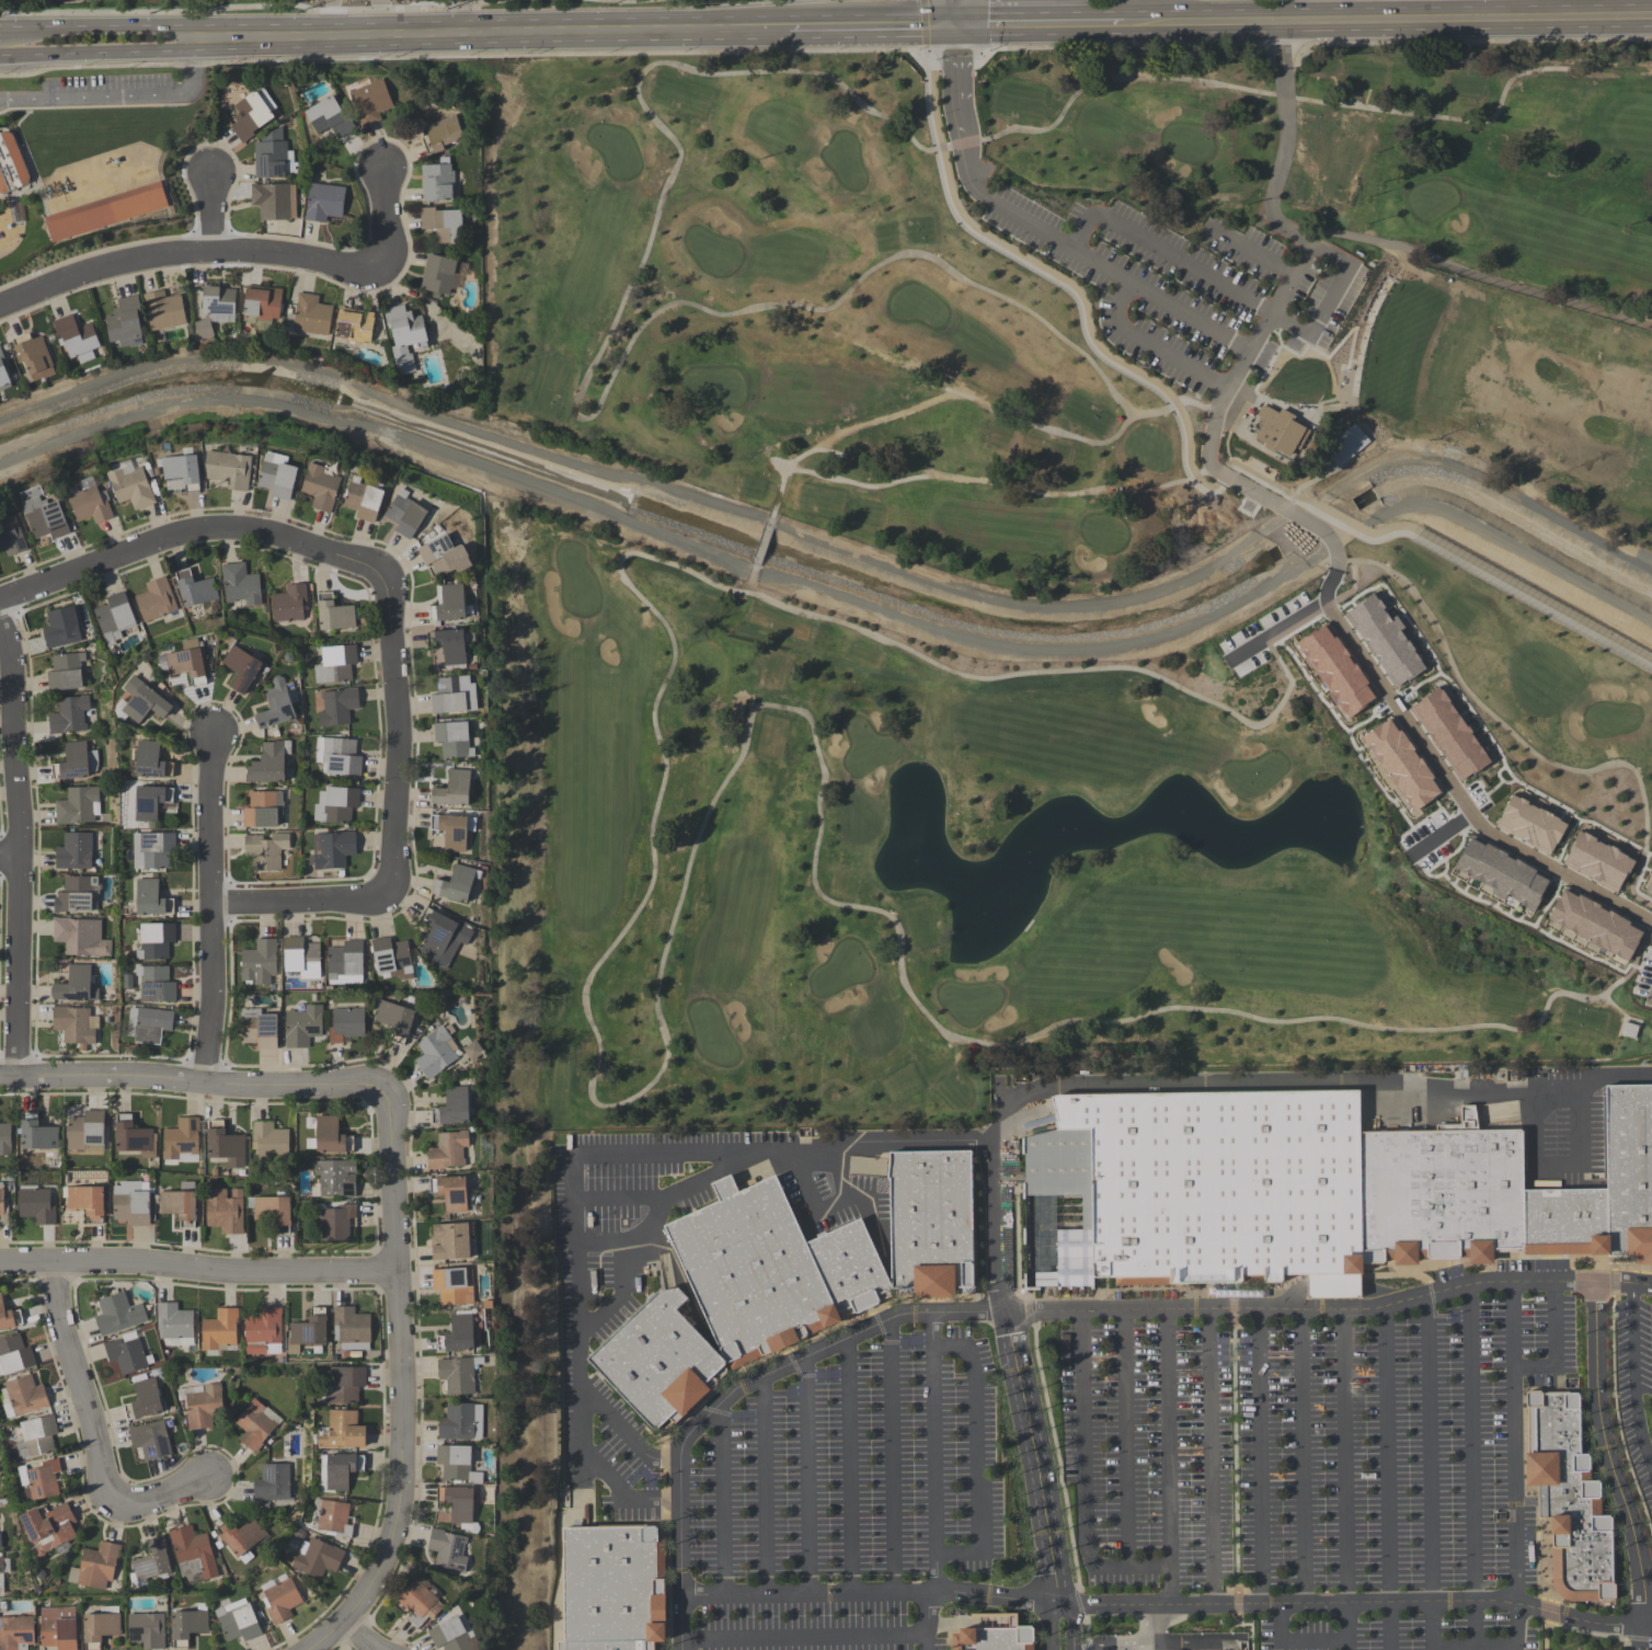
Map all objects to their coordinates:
building: (65, 0)
building: (77, 0)
park: (309, 1)
road: (332, 4)
road: (379, 4)
road: (412, 8)
road: (167, 11)
road: (955, 12)
road: (468, 16)
road: (1523, 19)
road: (332, 22)
road: (1340, 22)
road: (1040, 23)
road: (1205, 23)
traffic signals: (956, 24)
road: (107, 25)
road: (11, 27)
road: (925, 27)
road: (574, 32)
road: (96, 51)
road: (122, 96)
building: (370, 102)
building: (252, 115)
building: (330, 118)
building: (441, 135)
road: (1285, 142)
building: (271, 157)
building: (12, 163)
road: (964, 163)
building: (438, 182)
building: (275, 202)
building: (324, 203)
building: (107, 214)
road: (207, 216)
road: (385, 219)
building: (444, 225)
road: (1163, 252)
road: (1252, 253)
road: (187, 254)
building: (439, 276)
road: (1159, 299)
road: (1329, 299)
building: (220, 300)
building: (263, 303)
building: (165, 311)
road: (1269, 314)
building: (312, 316)
building: (126, 323)
building: (205, 329)
building: (354, 329)
building: (405, 336)
building: (78, 339)
road: (1152, 344)
building: (35, 357)
building: (4, 374)
building: (1278, 429)
building: (1345, 445)
building: (228, 468)
building: (182, 469)
building: (276, 474)
road: (1188, 475)
road: (1196, 475)
building: (131, 486)
building: (320, 486)
road: (1263, 497)
building: (363, 499)
building: (90, 504)
building: (406, 511)
building: (44, 513)
road: (187, 534)
building: (11, 535)
building: (444, 554)
park: (1021, 564)
building: (240, 584)
building: (194, 587)
building: (154, 599)
building: (288, 603)
building: (449, 604)
building: (333, 612)
building: (114, 617)
building: (60, 627)
road: (1282, 628)
building: (1385, 641)
building: (451, 645)
building: (184, 662)
building: (335, 664)
building: (241, 667)
building: (1335, 669)
building: (65, 671)
building: (454, 695)
building: (142, 700)
building: (276, 704)
building: (336, 707)
building: (69, 714)
building: (1448, 734)
road: (391, 735)
building: (452, 738)
building: (337, 756)
building: (150, 760)
building: (74, 761)
building: (268, 763)
building: (1398, 764)
building: (452, 788)
road: (1456, 797)
building: (150, 801)
building: (335, 804)
building: (78, 805)
building: (262, 809)
building: (1529, 824)
building: (452, 829)
road: (1437, 833)
building: (152, 849)
building: (265, 849)
building: (331, 849)
building: (74, 850)
road: (20, 852)
building: (1597, 861)
road: (10, 863)
building: (1501, 873)
building: (456, 883)
building: (1648, 885)
building: (74, 894)
building: (151, 898)
road: (299, 902)
road: (210, 908)
building: (1594, 924)
building: (80, 937)
building: (441, 938)
building: (156, 940)
building: (301, 958)
building: (391, 959)
building: (259, 962)
building: (345, 962)
building: (156, 983)
building: (76, 984)
building: (393, 1019)
building: (72, 1023)
building: (148, 1024)
building: (345, 1024)
building: (302, 1027)
building: (257, 1029)
building: (471, 1051)
building: (435, 1052)
road: (194, 1079)
road: (1592, 1081)
road: (1175, 1084)
road: (1459, 1097)
road: (1407, 1105)
building: (451, 1107)
road: (1506, 1120)
road: (1023, 1128)
building: (85, 1132)
building: (36, 1133)
building: (328, 1135)
building: (134, 1136)
building: (4, 1139)
building: (268, 1139)
building: (180, 1142)
building: (223, 1145)
building: (447, 1150)
road: (801, 1157)
building: (863, 1165)
road: (1557, 1166)
road: (861, 1170)
building: (1630, 1173)
building: (334, 1179)
building: (449, 1192)
building: (1200, 1193)
building: (1444, 1196)
road: (861, 1199)
road: (616, 1200)
building: (85, 1201)
building: (131, 1202)
building: (180, 1203)
building: (35, 1204)
building: (3, 1207)
building: (225, 1211)
building: (274, 1212)
road: (824, 1214)
building: (336, 1222)
building: (1567, 1224)
building: (933, 1225)
road: (996, 1228)
building: (449, 1240)
road: (612, 1245)
road: (658, 1261)
building: (850, 1268)
road: (195, 1270)
building: (753, 1273)
road: (577, 1274)
building: (454, 1285)
road: (1339, 1290)
road: (1383, 1295)
road: (1290, 1296)
road: (619, 1298)
road: (1046, 1311)
building: (117, 1314)
building: (9, 1317)
building: (174, 1324)
building: (351, 1328)
building: (308, 1330)
building: (219, 1331)
building: (263, 1332)
building: (457, 1333)
road: (1553, 1347)
building: (14, 1354)
building: (126, 1354)
building: (661, 1362)
road: (1491, 1372)
building: (458, 1374)
road: (1630, 1375)
building: (345, 1384)
road: (397, 1385)
building: (23, 1396)
building: (144, 1399)
building: (200, 1405)
road: (1047, 1418)
building: (460, 1421)
building: (254, 1425)
building: (342, 1431)
road: (88, 1435)
building: (36, 1436)
road: (623, 1436)
building: (150, 1439)
road: (1123, 1440)
road: (932, 1454)
road: (1303, 1456)
road: (888, 1457)
road: (1209, 1457)
road: (1259, 1457)
road: (975, 1458)
road: (1167, 1458)
building: (456, 1464)
road: (849, 1466)
road: (1470, 1467)
road: (1609, 1468)
building: (340, 1471)
road: (804, 1477)
road: (1386, 1478)
building: (41, 1479)
road: (1082, 1479)
road: (1235, 1479)
road: (1344, 1480)
road: (1037, 1481)
building: (272, 1482)
road: (764, 1487)
road: (578, 1492)
parking lot: (1433, 1494)
building: (1571, 1499)
road: (720, 1500)
building: (457, 1504)
building: (331, 1519)
building: (49, 1528)
building: (240, 1537)
building: (0, 1547)
building: (447, 1549)
building: (192, 1554)
building: (317, 1558)
building: (150, 1562)
building: (1, 1566)
building: (95, 1567)
building: (617, 1590)
building: (280, 1601)
building: (418, 1603)
road: (1167, 1606)
building: (238, 1620)
road: (925, 1622)
building: (187, 1625)
building: (100, 1626)
road: (1152, 1626)
building: (58, 1628)
building: (146, 1630)
building: (15, 1632)
building: (451, 1636)
road: (802, 1637)
road: (353, 1638)
building: (995, 1639)
road: (1293, 1643)
road: (1169, 1646)
road: (1165, 1648)
road: (1433, 1648)
road: (1480, 1648)
road: (1104, 1649)
road: (1108, 1649)

